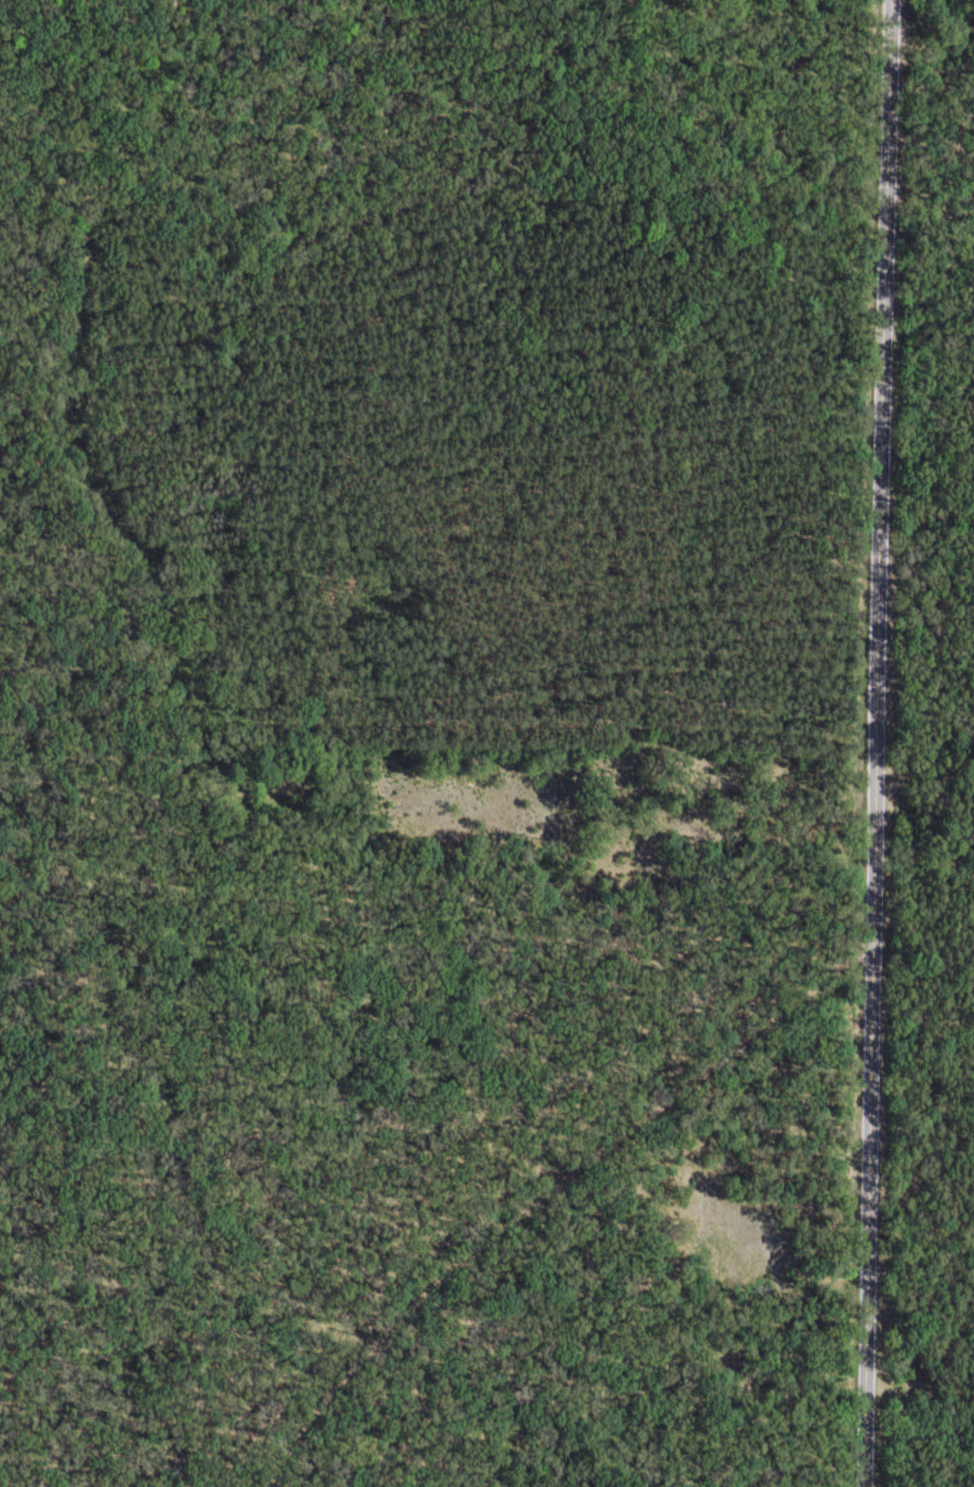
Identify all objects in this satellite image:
road: (874, 743)
road: (546, 1192)

